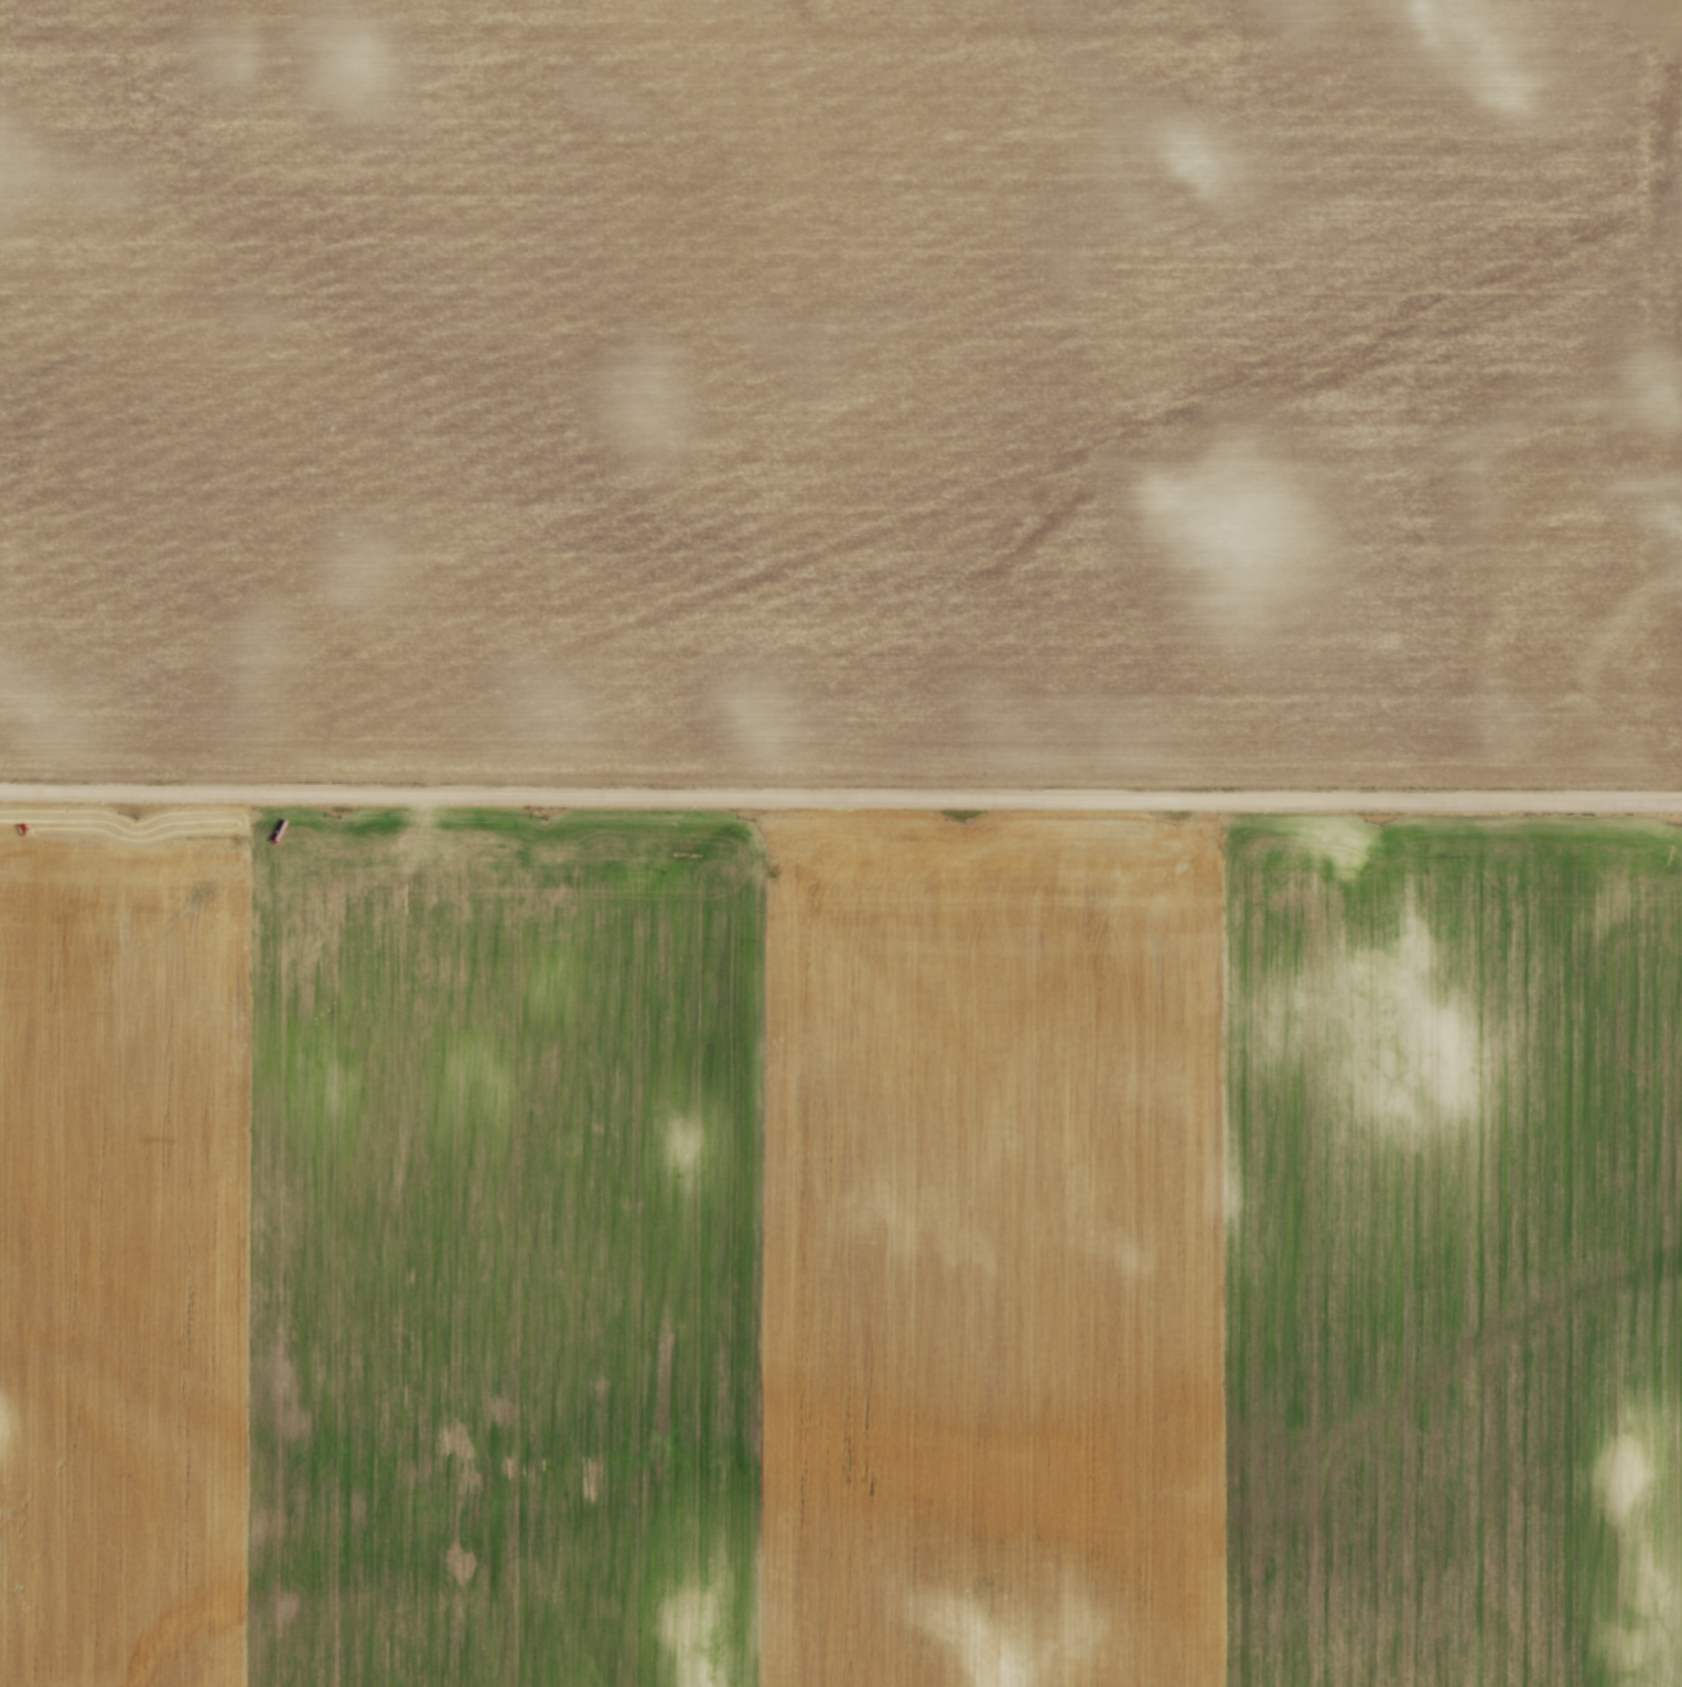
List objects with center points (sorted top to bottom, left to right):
crop: (843, 384)
road: (840, 794)
crop: (838, 1248)

